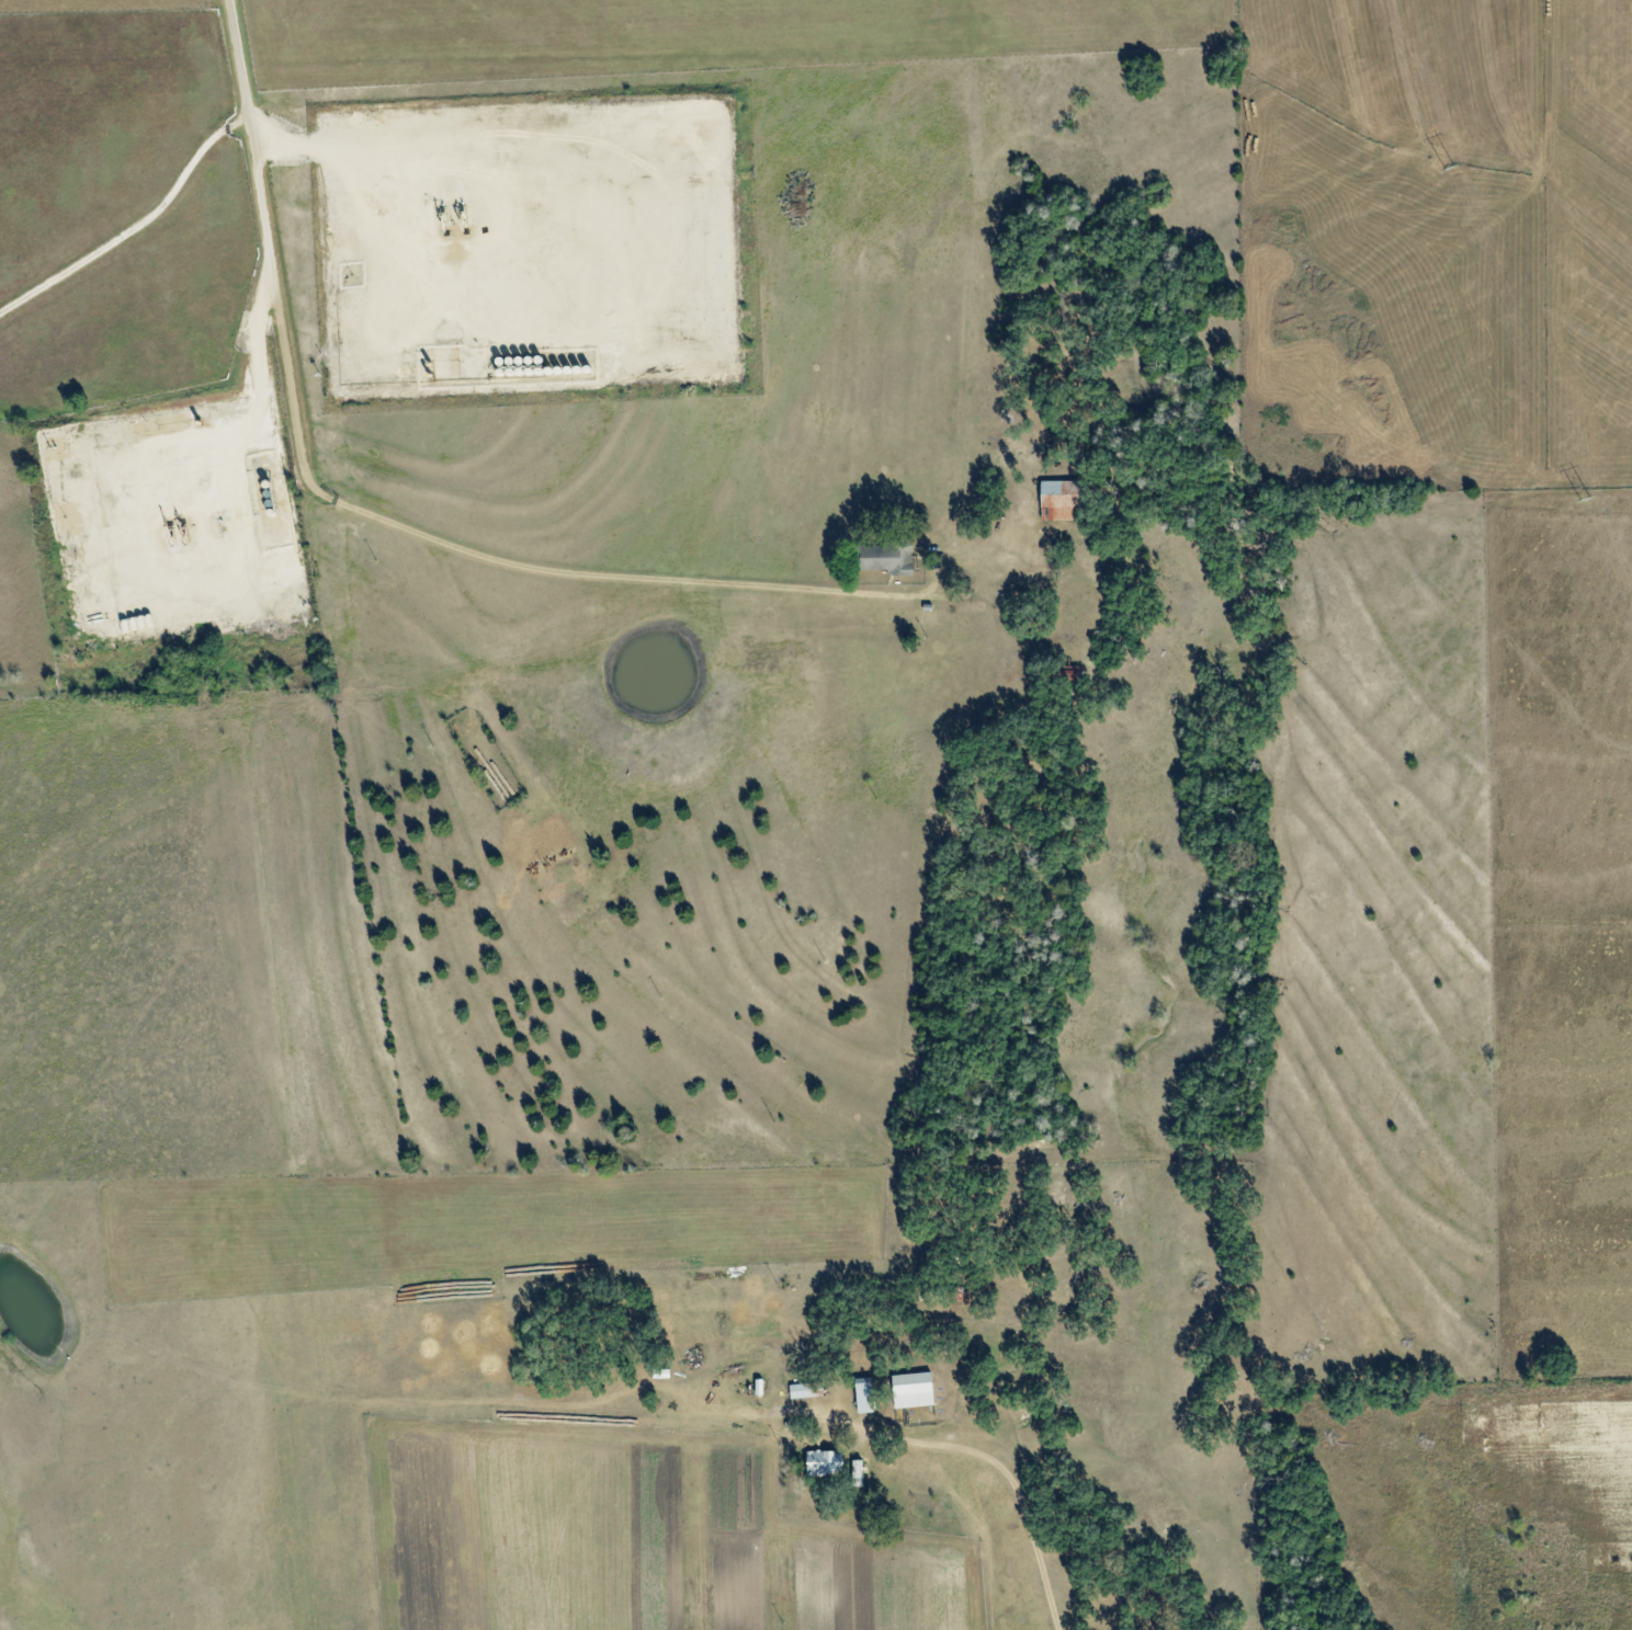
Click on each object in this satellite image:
power tower: (1448, 170)
road: (135, 219)
building: (1056, 501)
power tower: (1580, 502)
road: (392, 516)
building: (886, 558)
building: (803, 1391)
building: (911, 1391)
building: (864, 1395)
road: (918, 1438)
building: (823, 1463)
building: (857, 1473)

